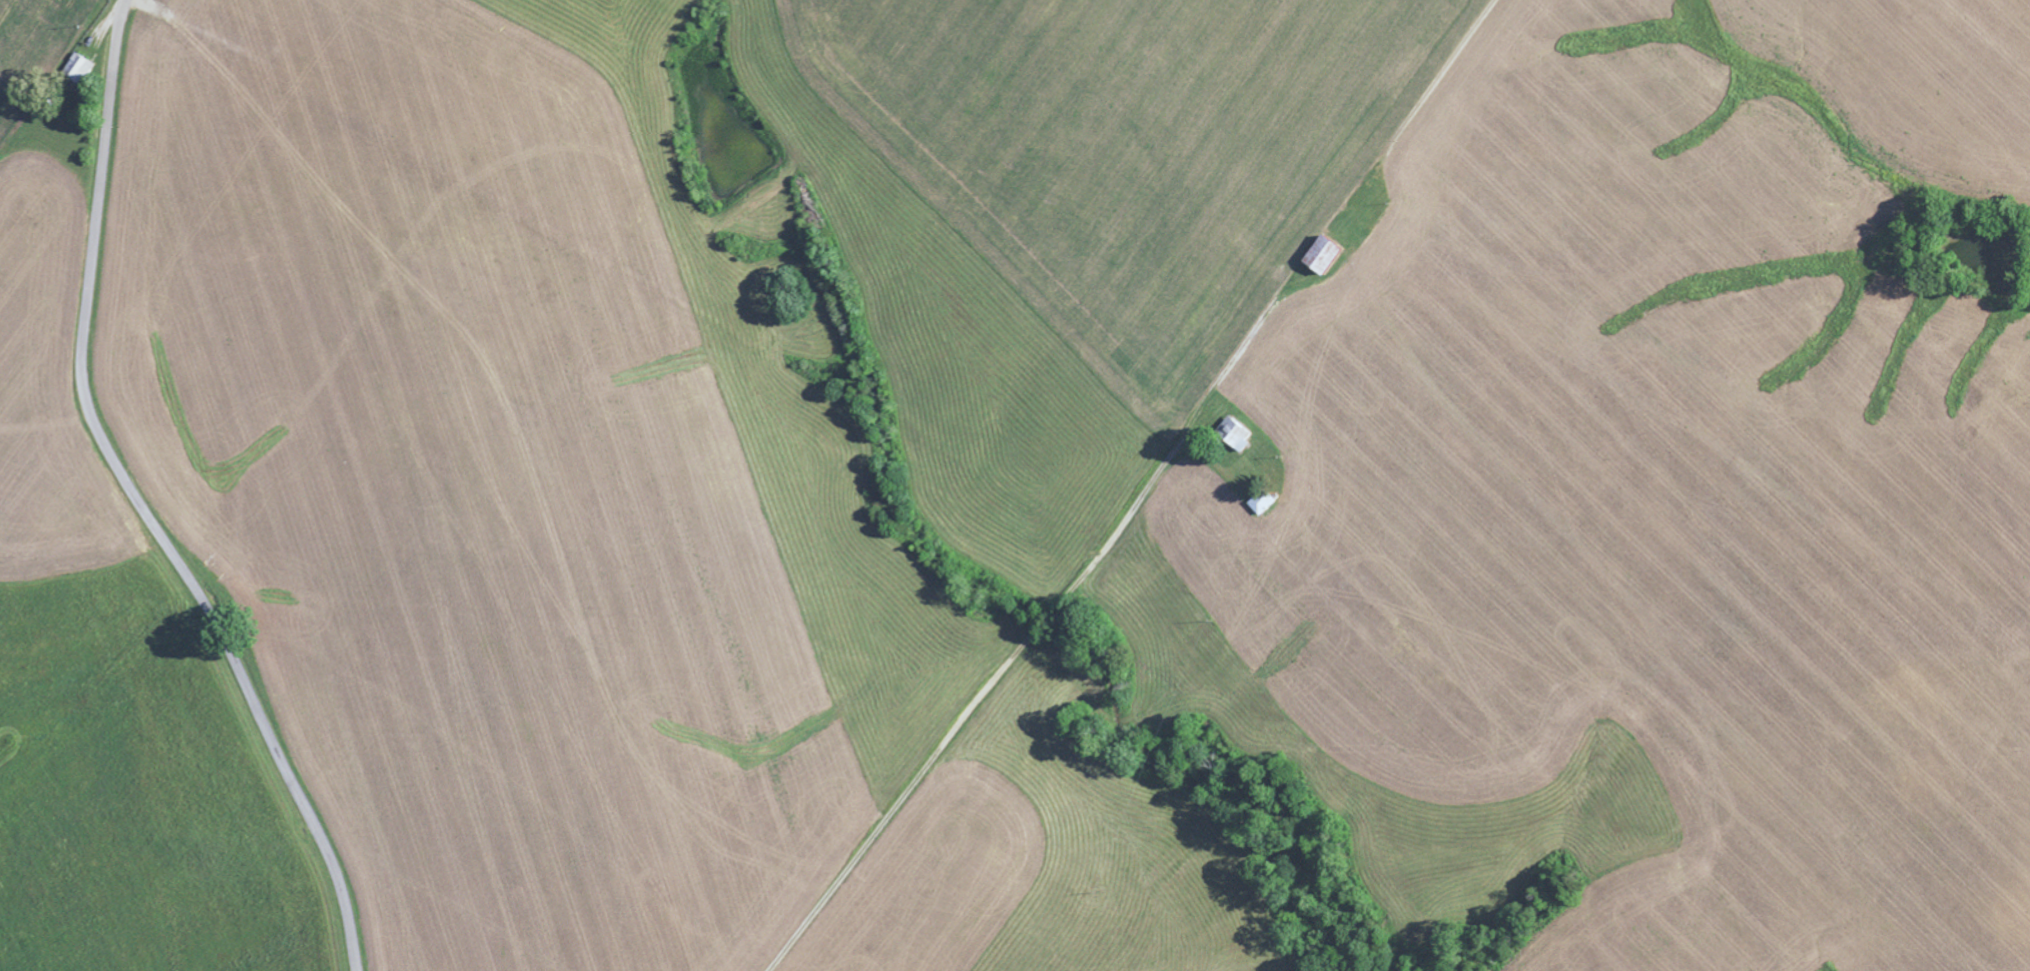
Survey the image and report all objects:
building: (77, 71)
building: (1314, 259)
road: (137, 502)
building: (1257, 506)
road: (981, 683)

